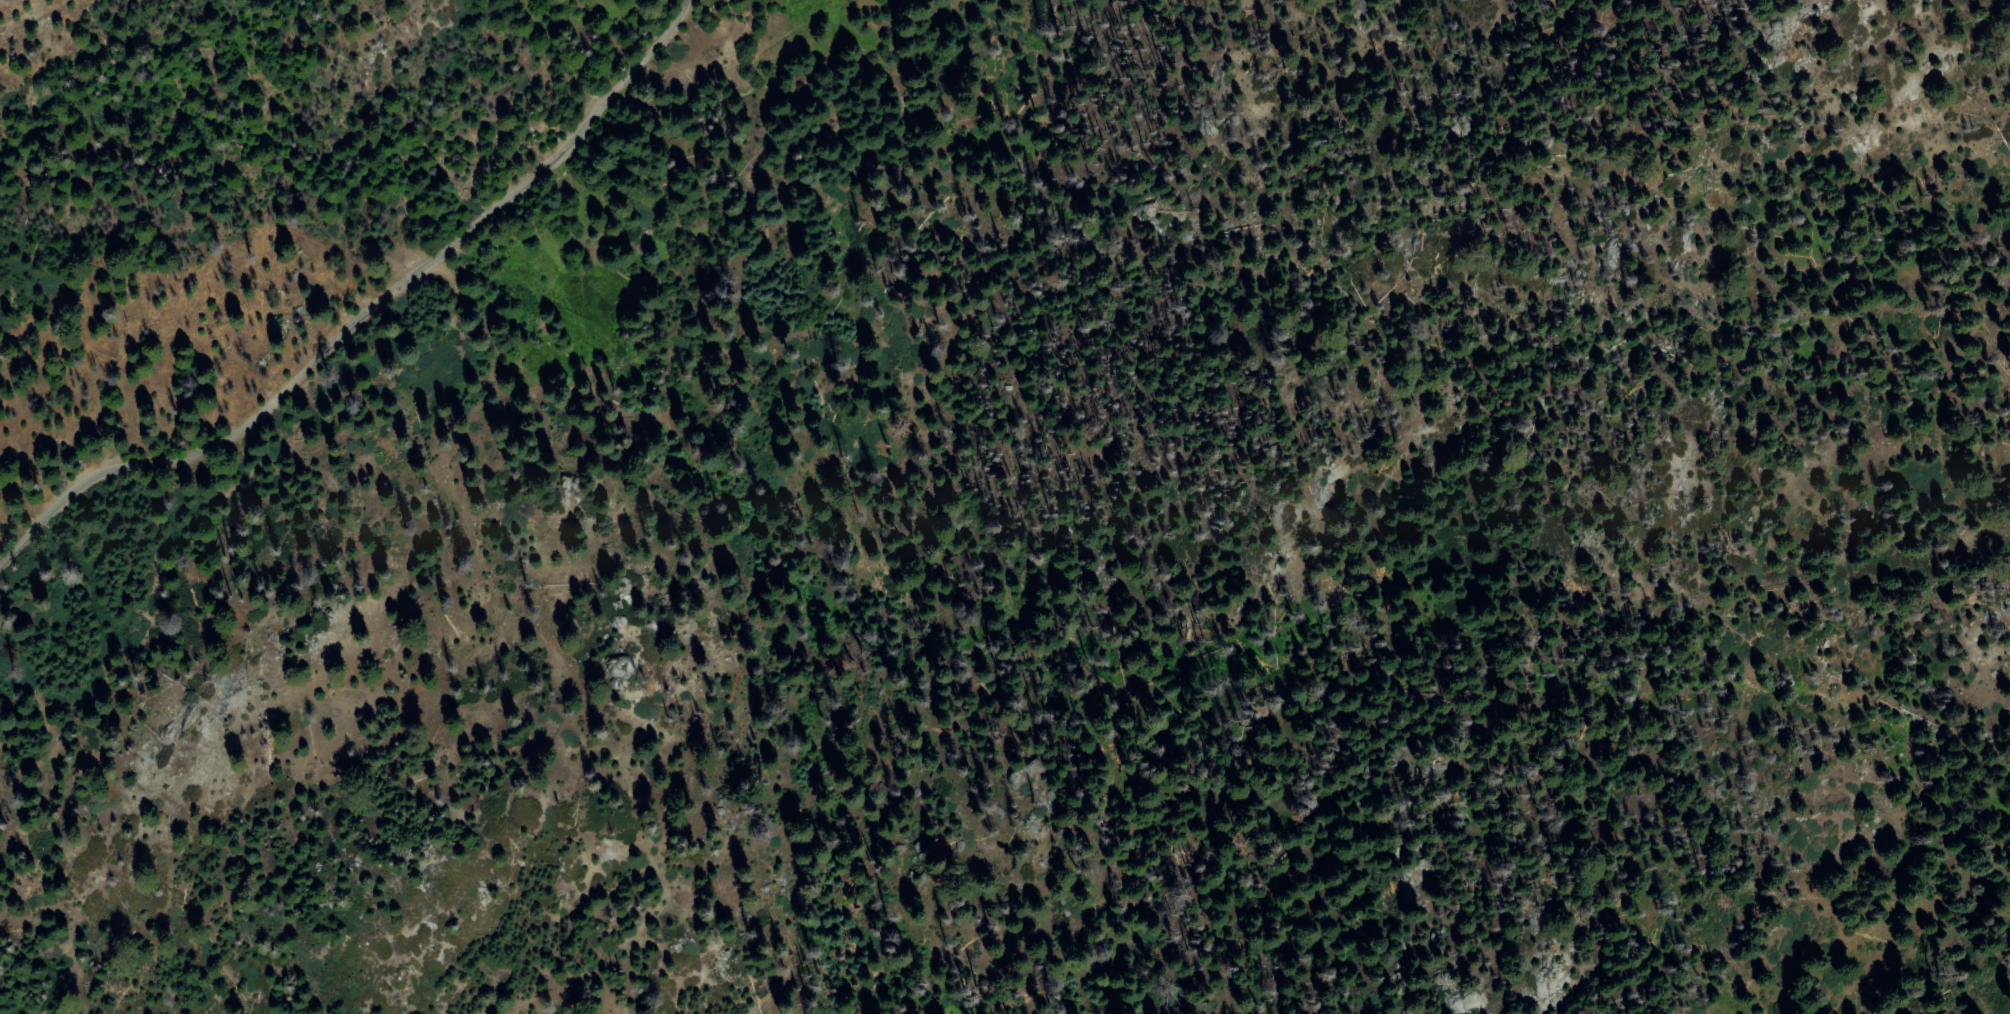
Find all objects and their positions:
road: (369, 313)

